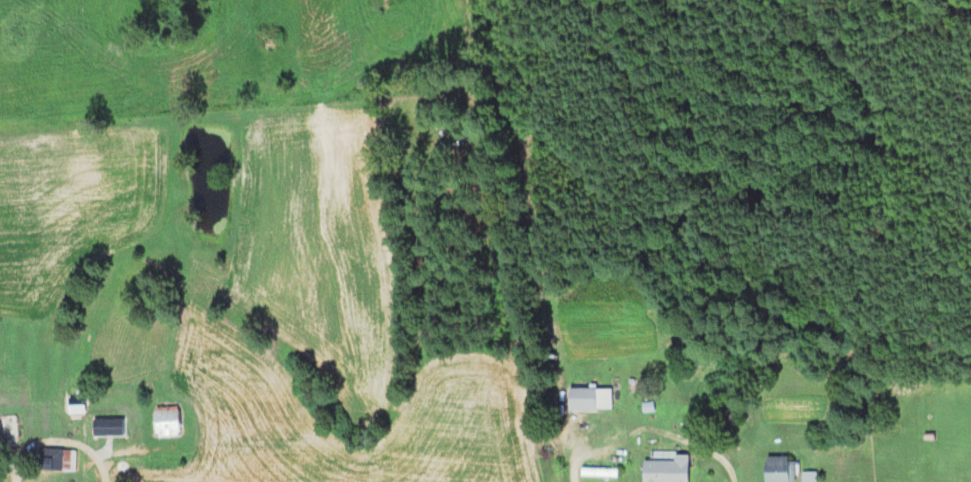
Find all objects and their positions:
crop: (72, 203)
building: (588, 400)
building: (165, 422)
road: (649, 429)
building: (0, 433)
road: (56, 438)
building: (56, 460)
building: (665, 470)
building: (778, 470)
building: (597, 473)

